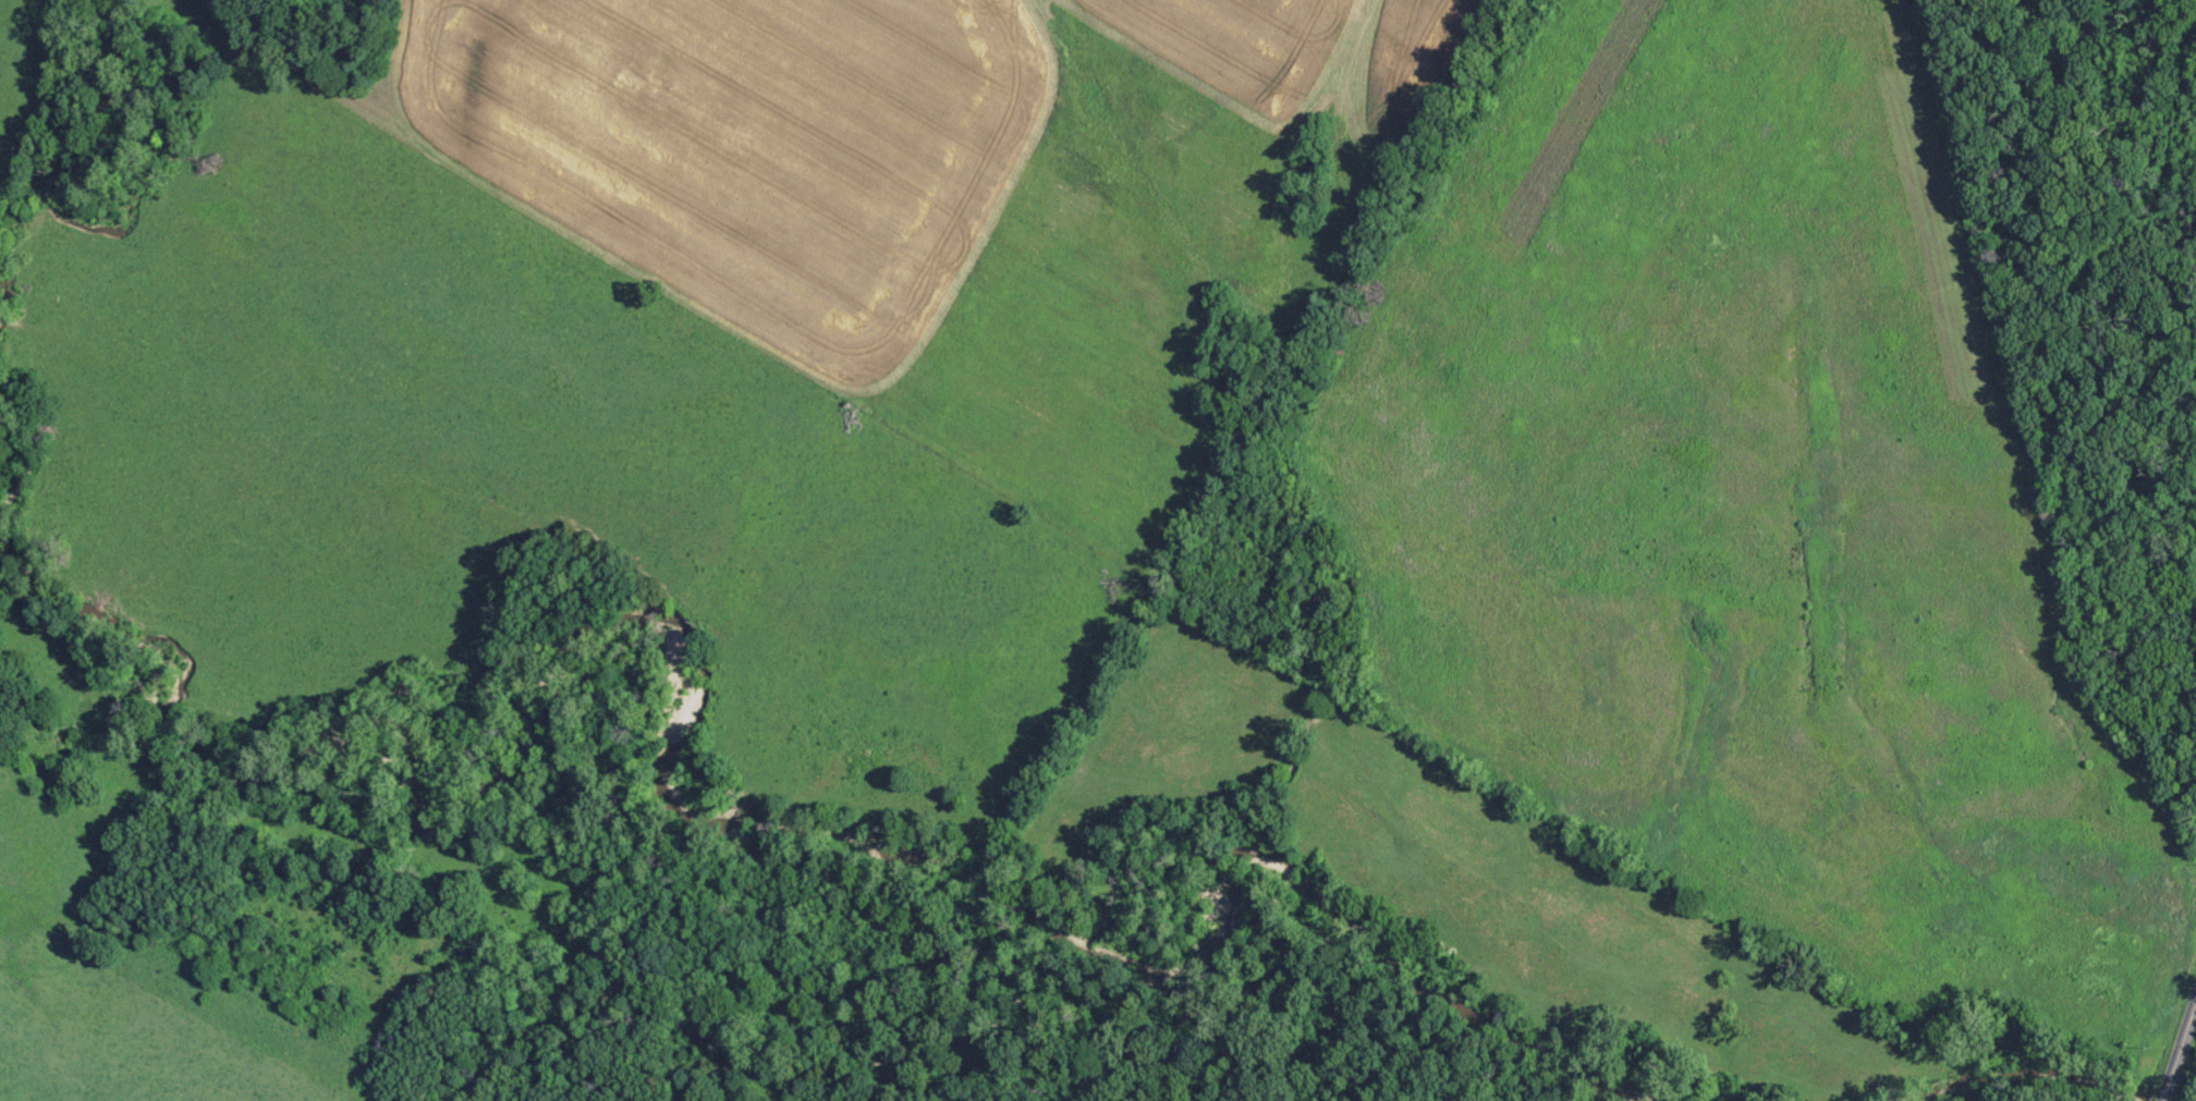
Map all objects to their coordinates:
road: (2182, 1059)

